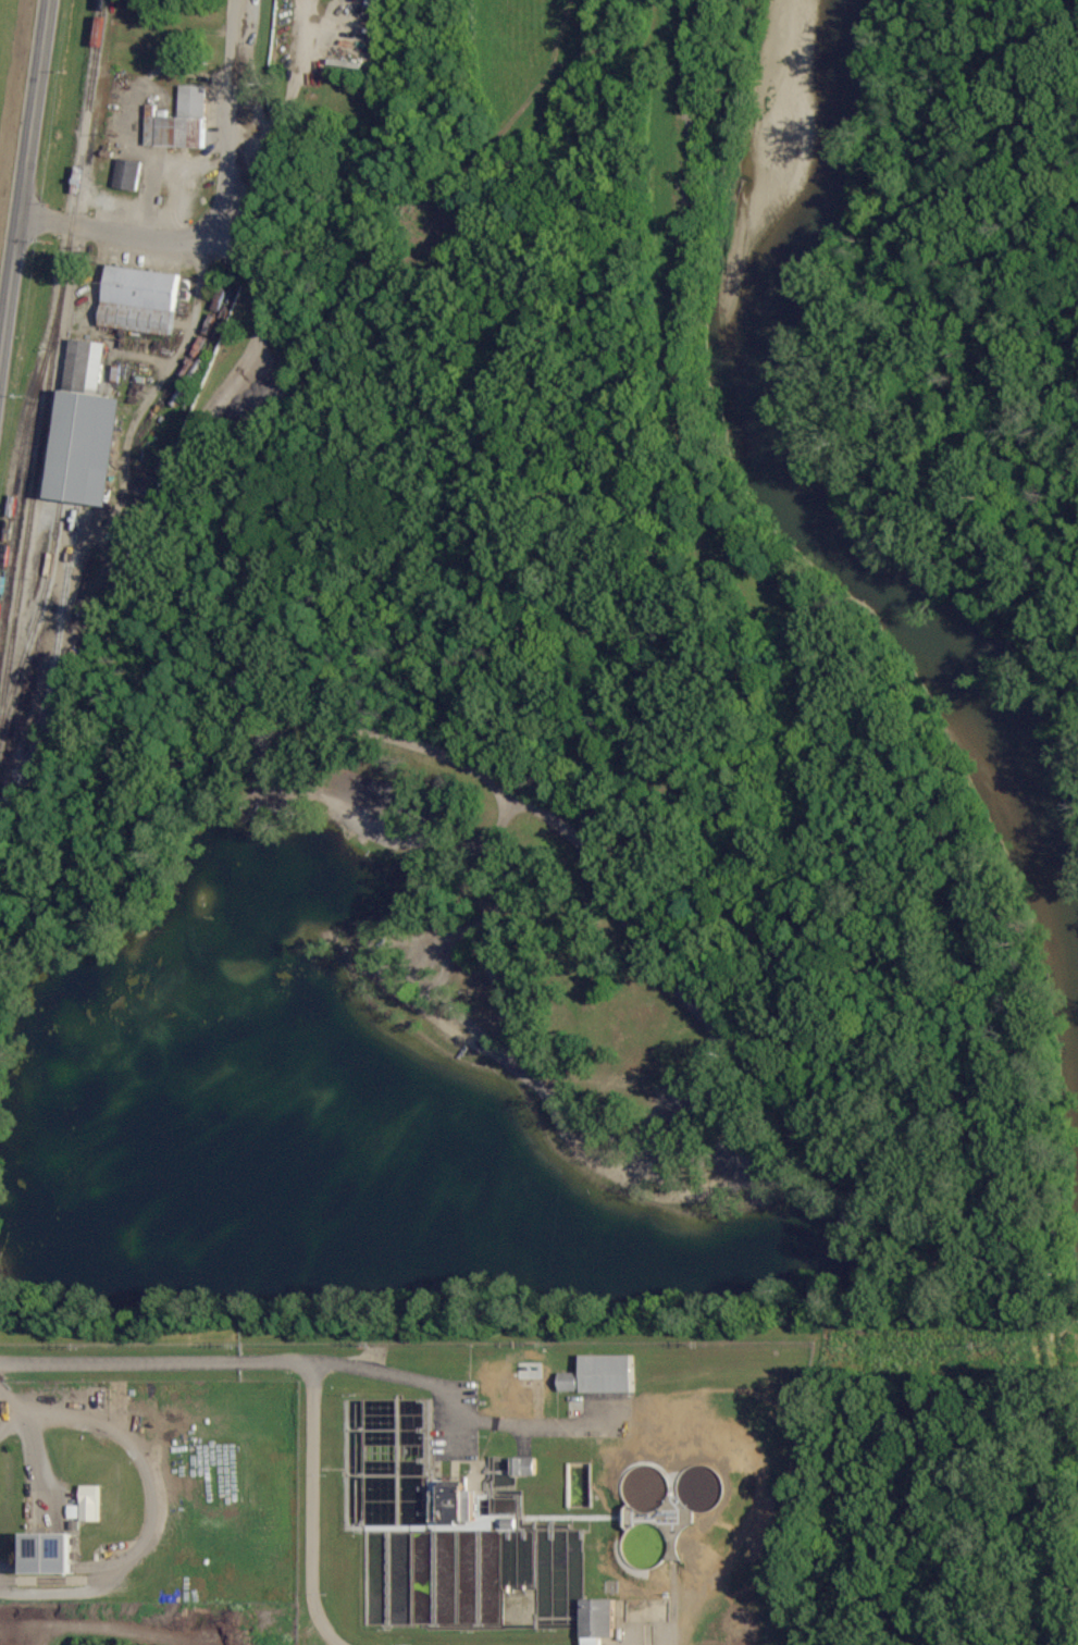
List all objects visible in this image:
road: (34, 107)
building: (178, 121)
road: (228, 122)
building: (127, 173)
road: (10, 285)
building: (139, 299)
railway: (51, 364)
railway: (27, 425)
building: (91, 446)
river: (792, 490)
railway: (24, 506)
railway: (58, 616)
railway: (35, 621)
railway: (67, 665)
road: (332, 718)
railway: (20, 774)
road: (232, 1362)
building: (608, 1373)
building: (569, 1382)
power substation: (543, 1489)
building: (91, 1502)
building: (275, 1505)
road: (312, 1507)
building: (49, 1554)
building: (566, 1573)
building: (597, 1621)
building: (735, 1624)

